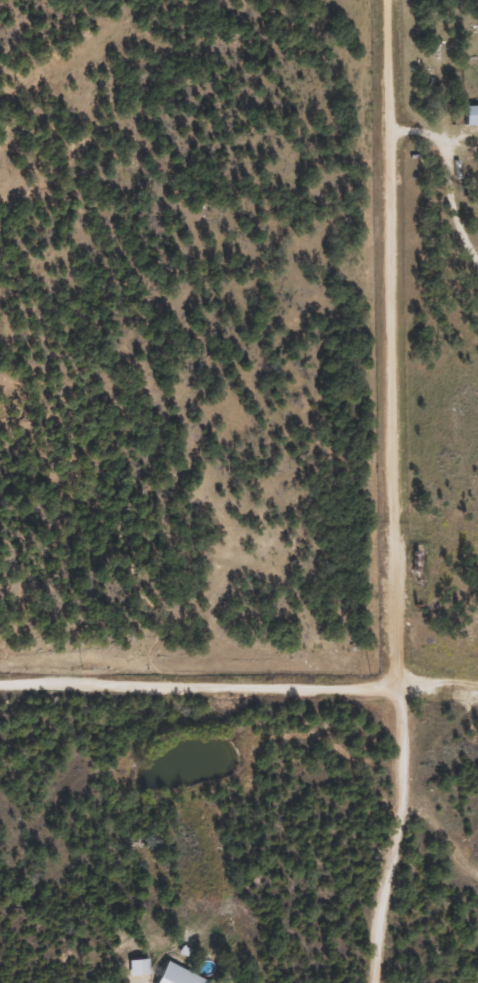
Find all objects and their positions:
road: (413, 332)
road: (208, 666)
building: (139, 967)
building: (180, 976)

